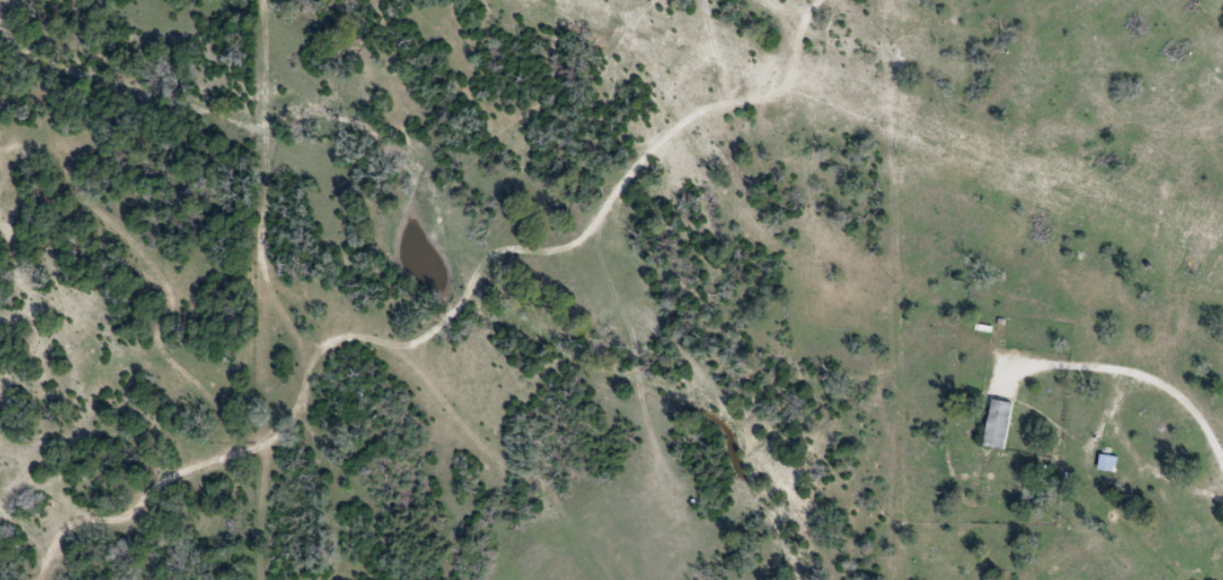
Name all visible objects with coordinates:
road: (1143, 375)
building: (999, 423)
building: (1108, 461)

